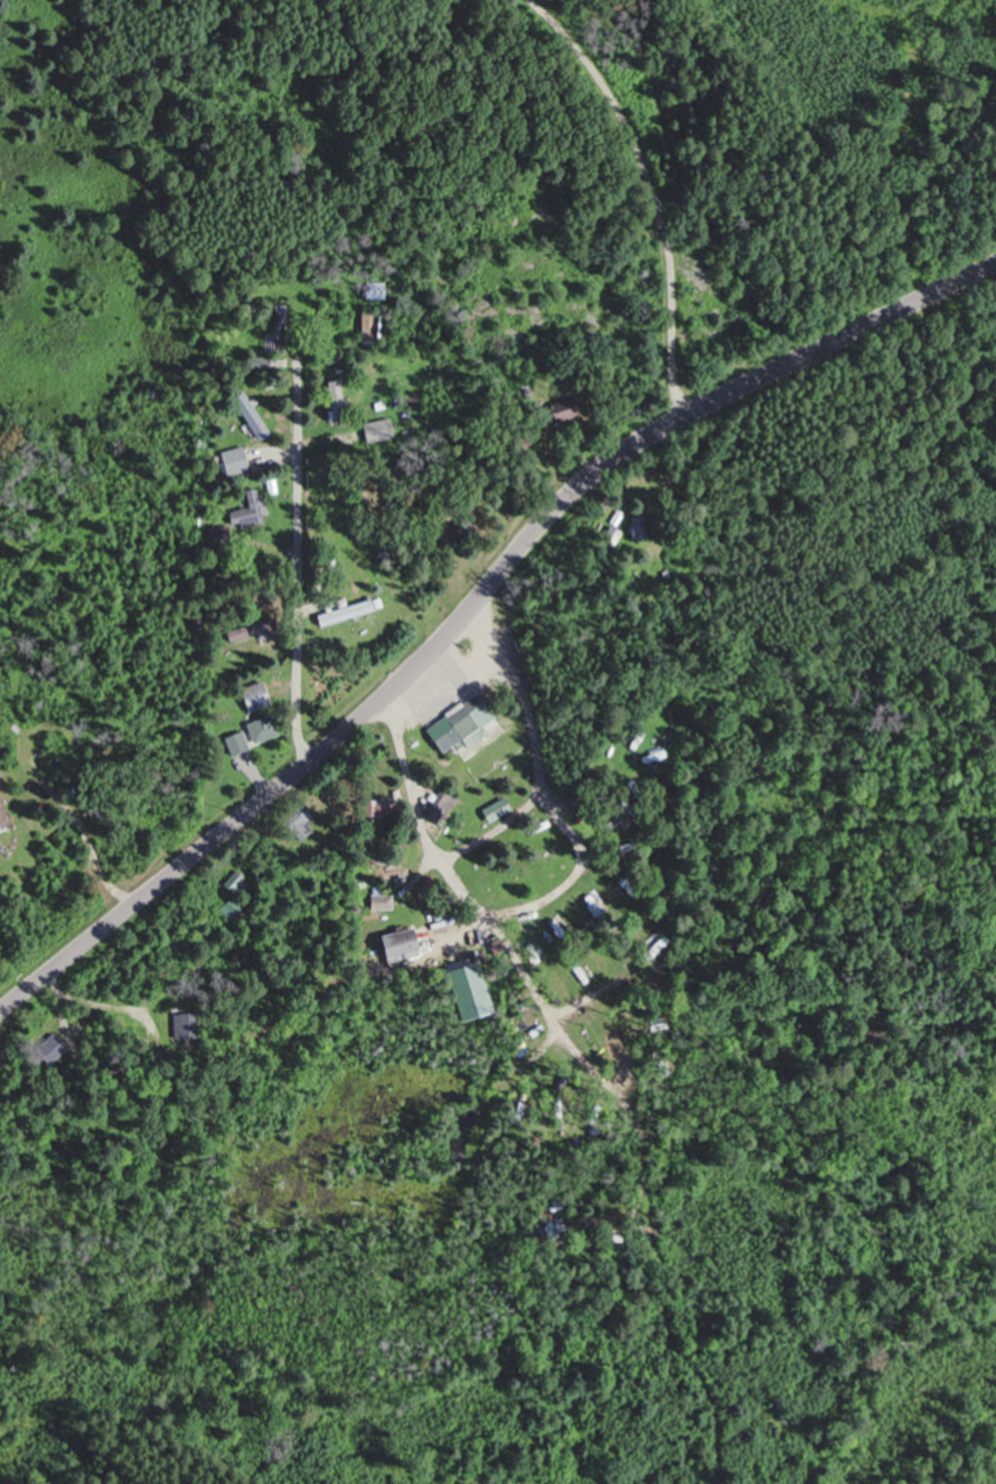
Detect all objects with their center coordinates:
road: (656, 190)
building: (279, 332)
building: (260, 365)
building: (335, 402)
building: (560, 411)
building: (249, 417)
building: (247, 512)
building: (634, 529)
building: (609, 536)
road: (296, 564)
road: (474, 596)
building: (344, 611)
building: (245, 631)
building: (253, 698)
building: (456, 724)
building: (251, 735)
building: (438, 806)
building: (370, 810)
building: (492, 810)
building: (0, 812)
building: (295, 819)
road: (495, 832)
building: (236, 885)
road: (561, 888)
building: (229, 908)
building: (393, 943)

